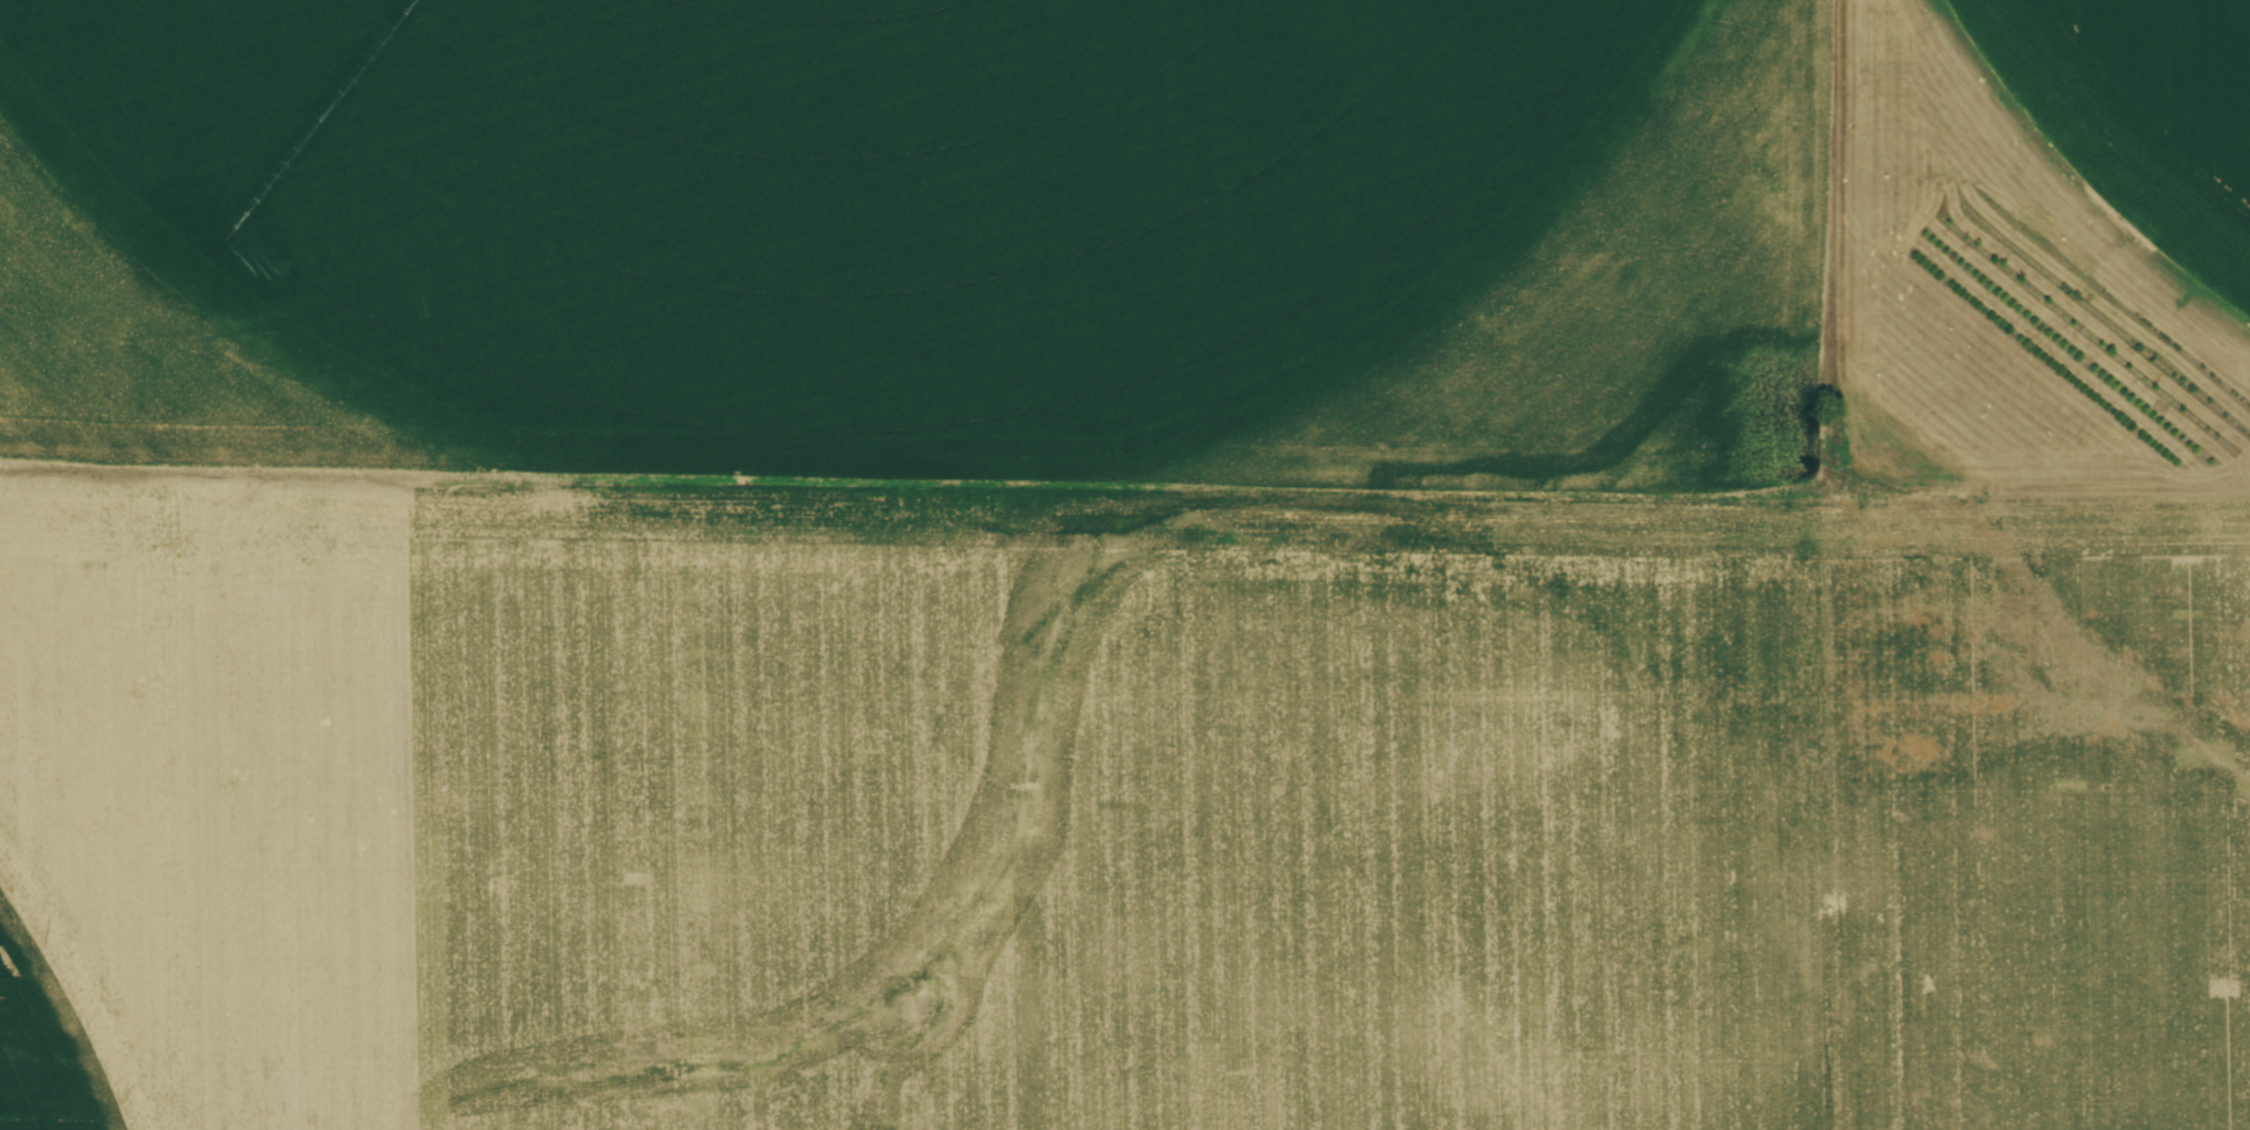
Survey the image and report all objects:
road: (1828, 249)
road: (2043, 495)

